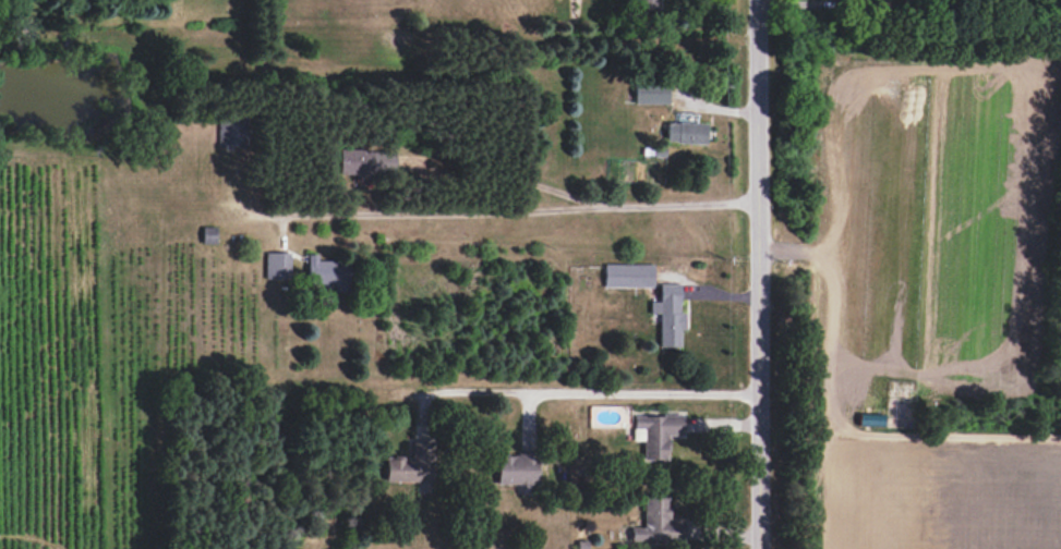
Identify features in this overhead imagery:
building: (647, 3)
building: (651, 91)
building: (232, 130)
building: (685, 132)
building: (365, 160)
road: (578, 197)
road: (431, 211)
building: (208, 234)
building: (277, 265)
building: (326, 272)
road: (760, 273)
building: (628, 274)
building: (668, 315)
road: (571, 391)
building: (656, 434)
building: (410, 465)
building: (516, 468)
building: (656, 523)

